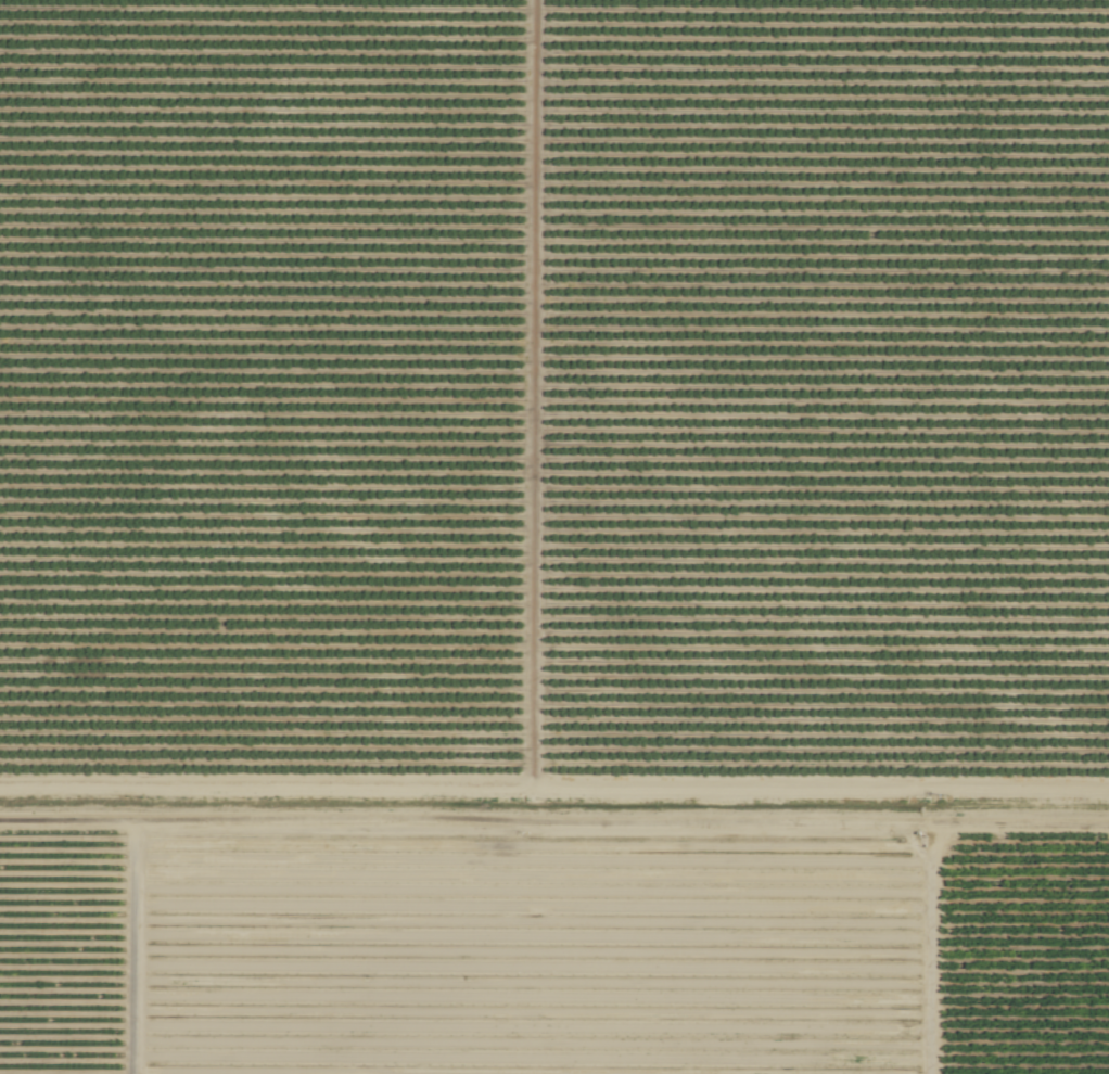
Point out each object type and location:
crop: (554, 537)

